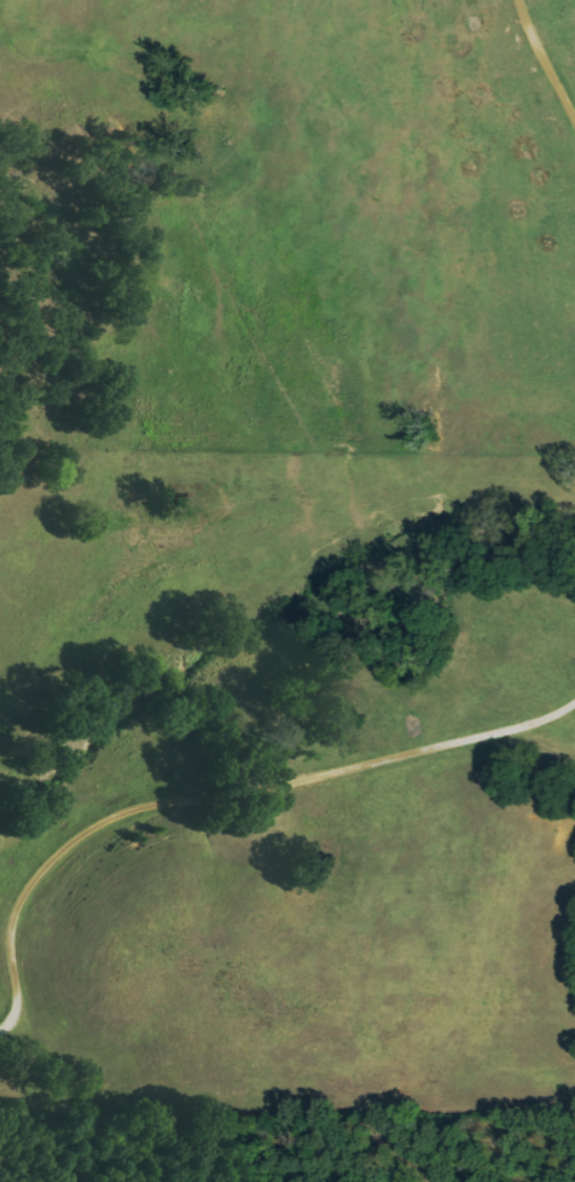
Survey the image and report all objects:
road: (217, 794)

